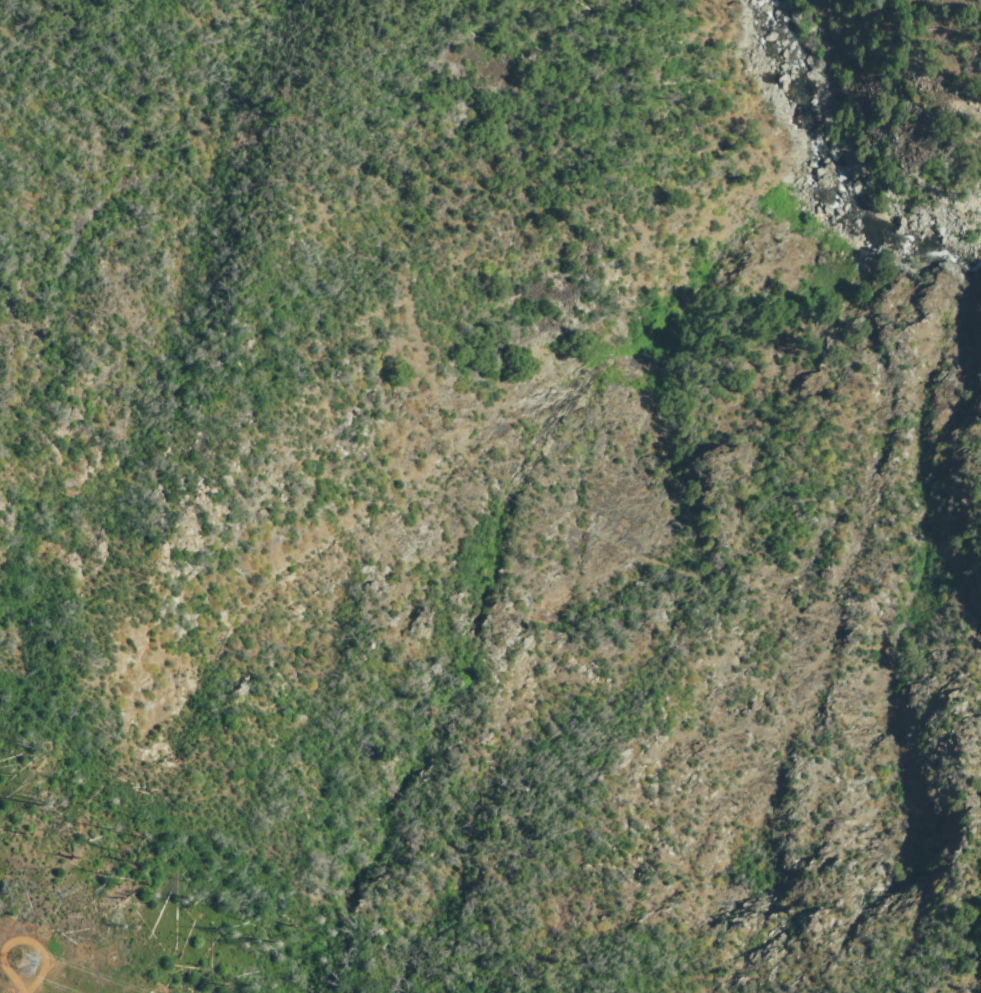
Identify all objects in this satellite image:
river: (828, 171)
road: (24, 939)
power tower: (30, 964)

